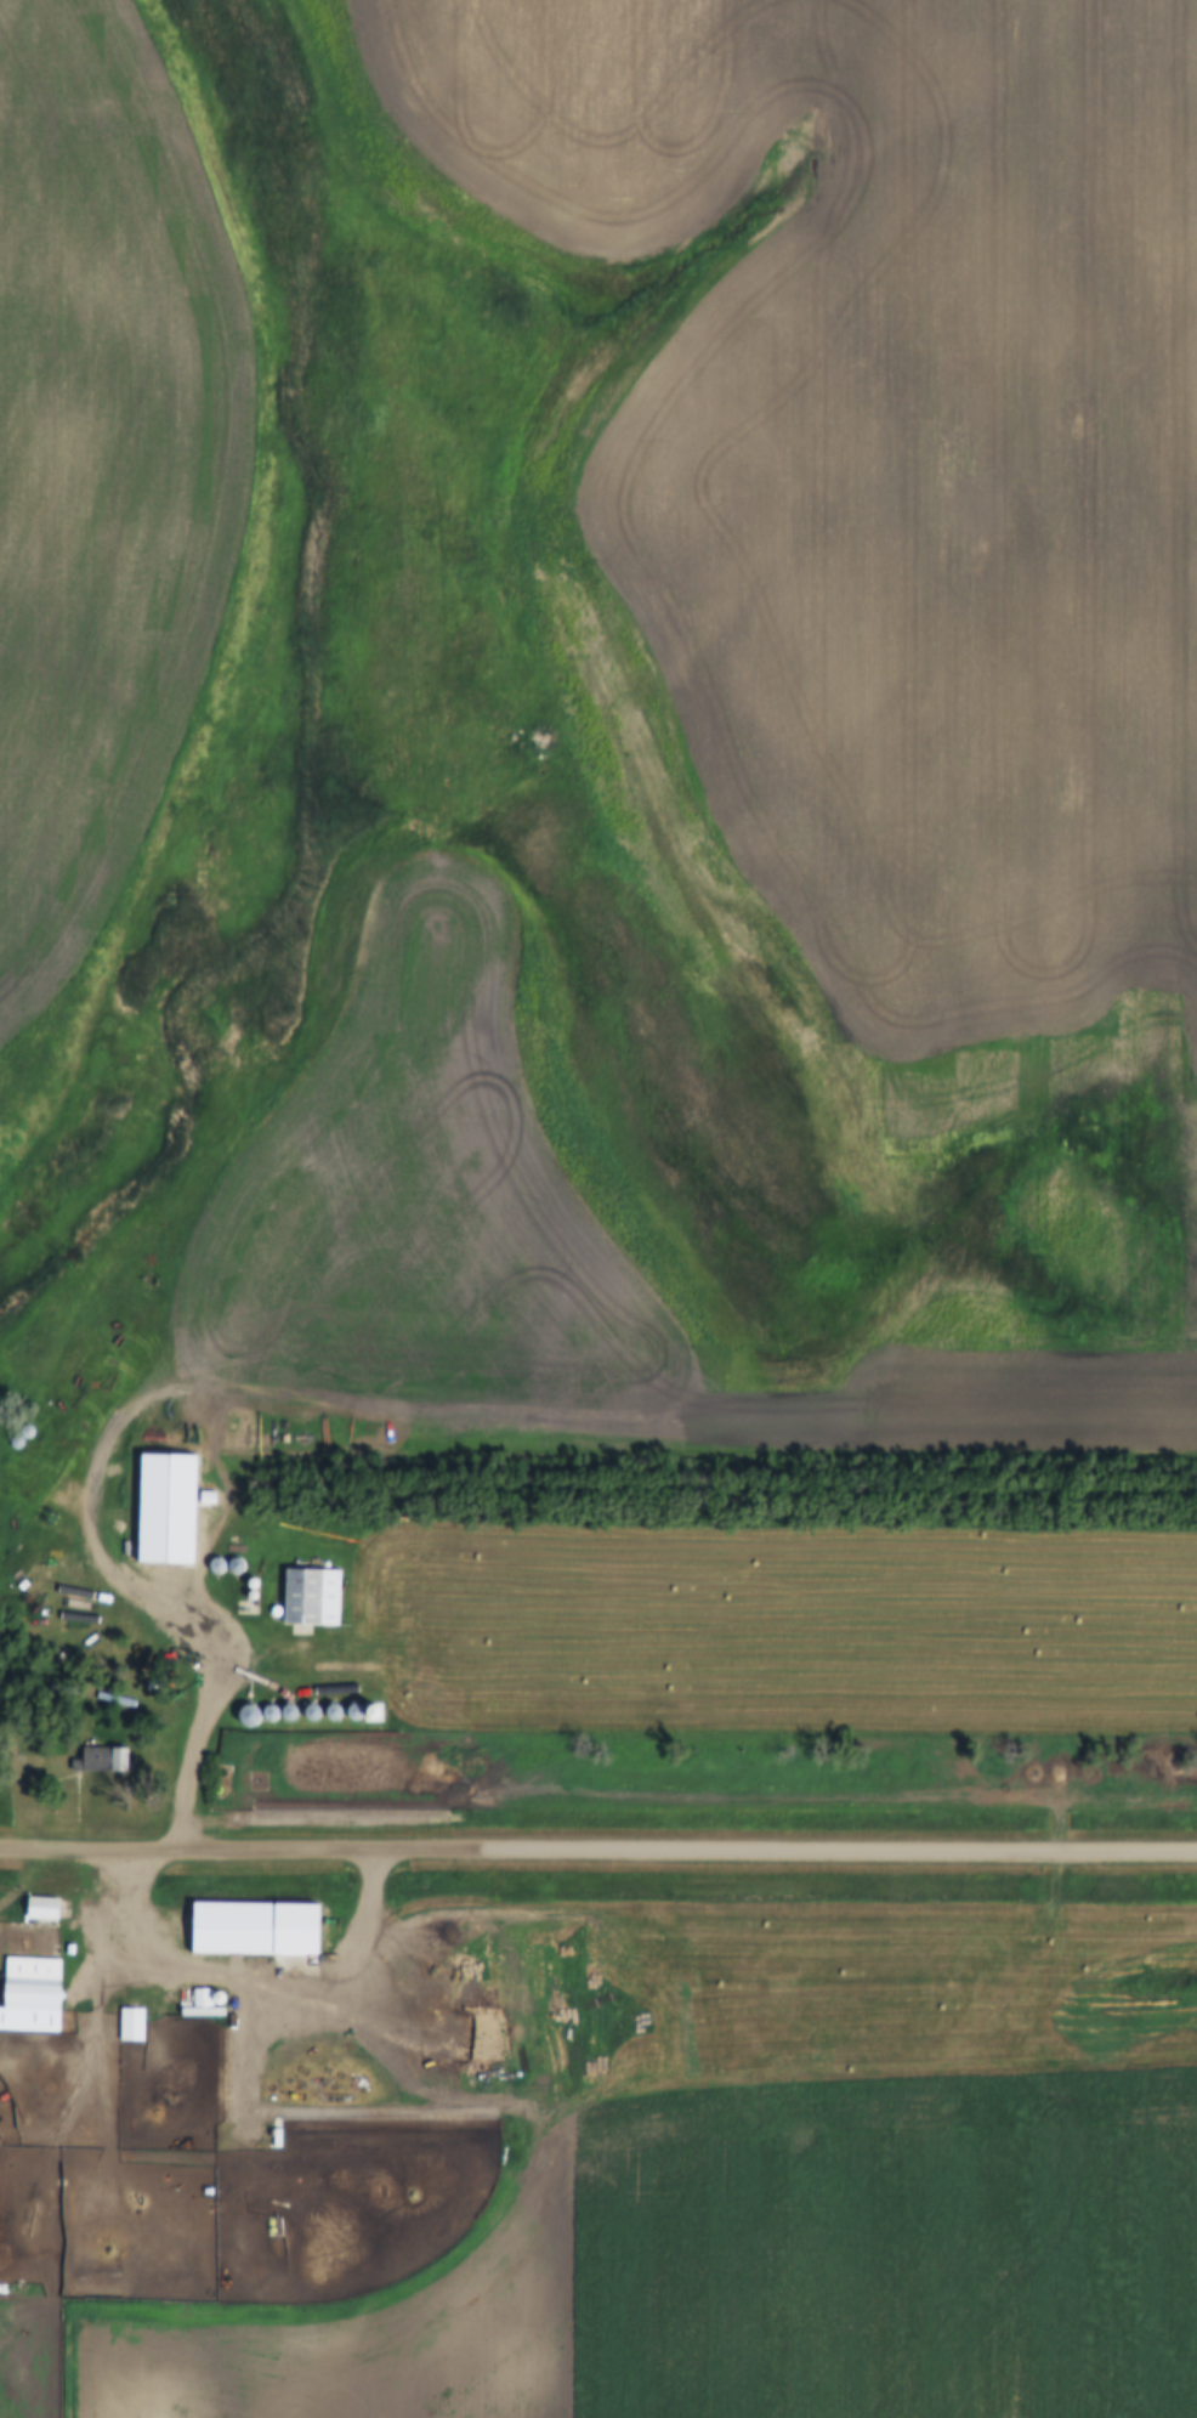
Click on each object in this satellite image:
building: (314, 1598)
road: (239, 1660)
building: (104, 1761)
road: (597, 1850)
building: (46, 1910)
building: (261, 1930)
road: (96, 1959)
building: (35, 1998)
building: (135, 2027)

